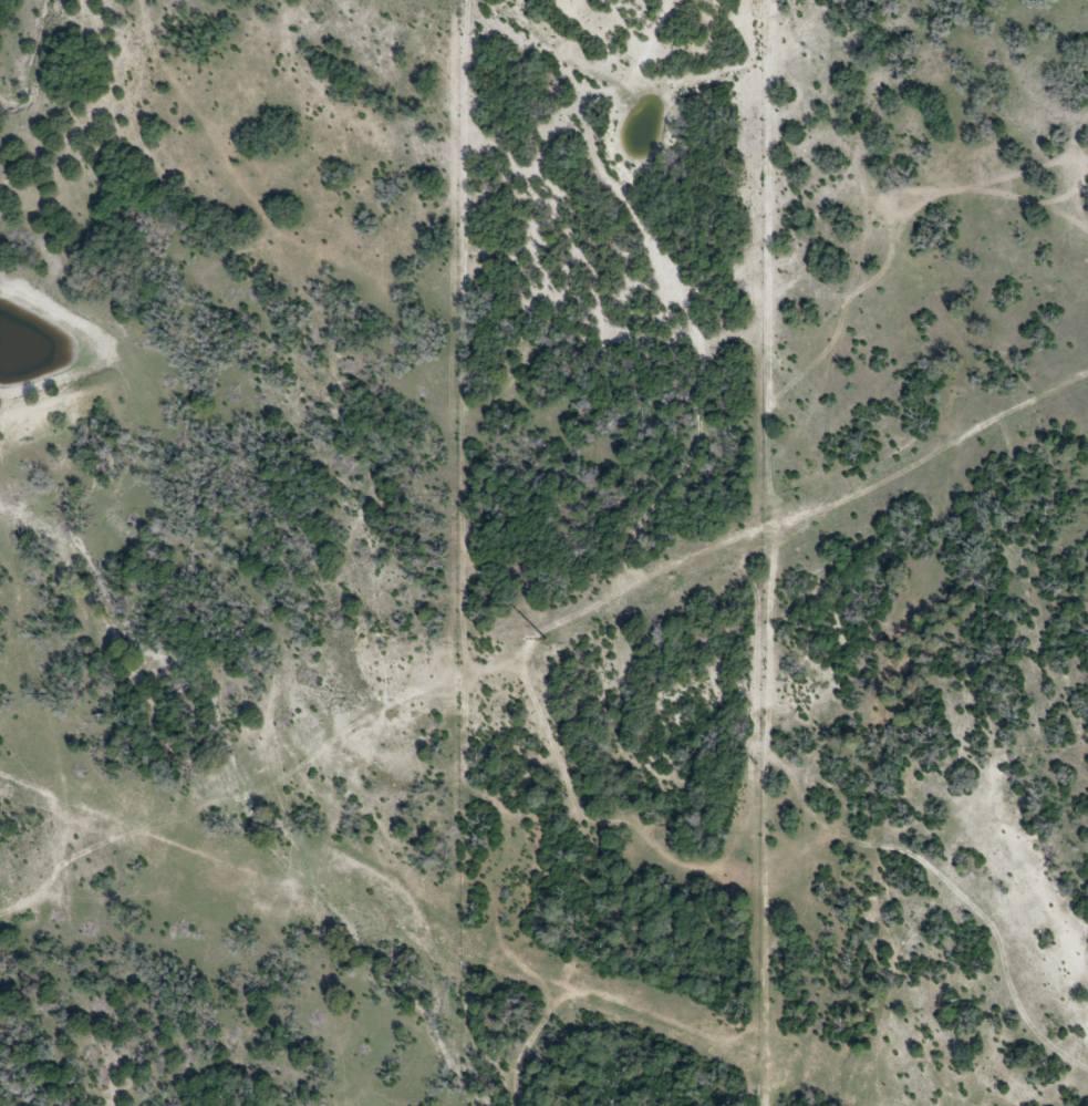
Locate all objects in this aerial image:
power tower: (549, 638)

